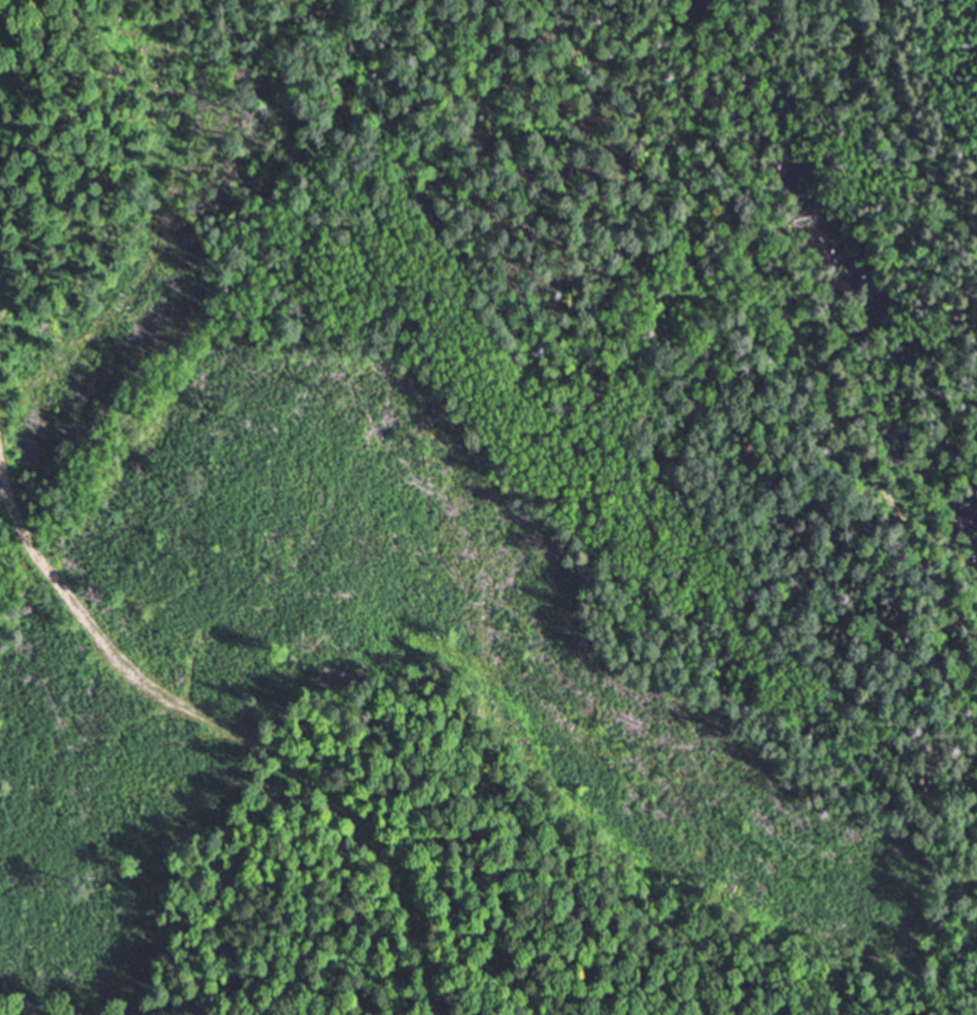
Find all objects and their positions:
river: (837, 258)
road: (230, 737)

